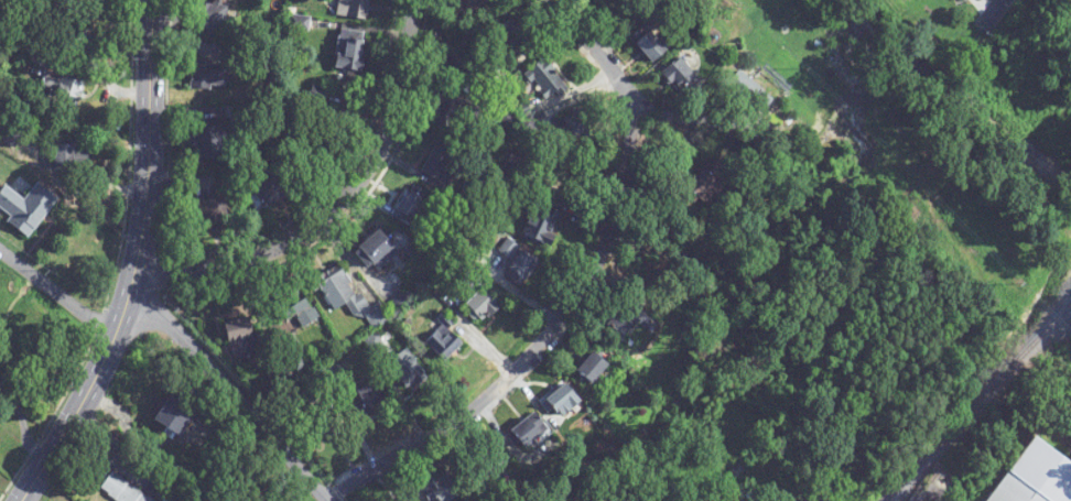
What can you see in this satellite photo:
building: (956, 0)
building: (463, 3)
building: (353, 9)
building: (210, 18)
road: (977, 31)
building: (512, 37)
building: (649, 46)
building: (348, 51)
road: (594, 51)
building: (42, 59)
building: (679, 76)
building: (208, 77)
building: (545, 80)
building: (63, 91)
road: (688, 117)
building: (212, 143)
road: (685, 143)
building: (439, 160)
road: (148, 171)
building: (703, 178)
building: (266, 192)
road: (337, 205)
building: (25, 208)
building: (410, 208)
building: (208, 213)
building: (541, 226)
building: (376, 252)
building: (519, 270)
road: (57, 295)
building: (350, 301)
building: (480, 306)
building: (295, 312)
building: (617, 323)
building: (242, 338)
building: (444, 342)
road: (538, 347)
building: (587, 369)
road: (228, 392)
building: (368, 399)
building: (560, 401)
railway: (977, 402)
railway: (972, 413)
building: (171, 416)
road: (22, 420)
road: (71, 421)
building: (323, 426)
building: (526, 432)
road: (104, 449)
building: (489, 465)
road: (141, 475)
building: (1035, 477)
building: (443, 489)
building: (120, 490)
building: (266, 494)
building: (770, 497)
road: (855, 499)

